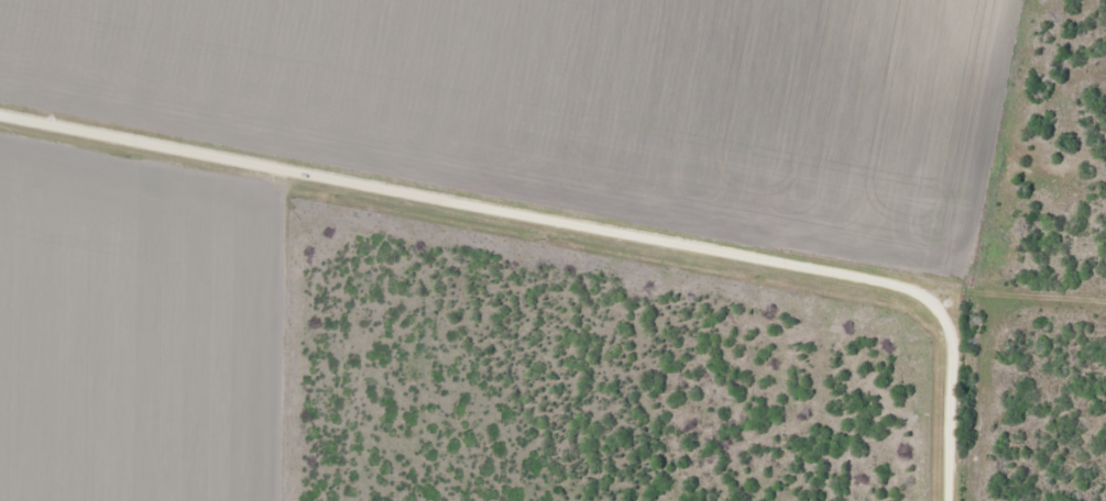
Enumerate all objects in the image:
road: (563, 231)

